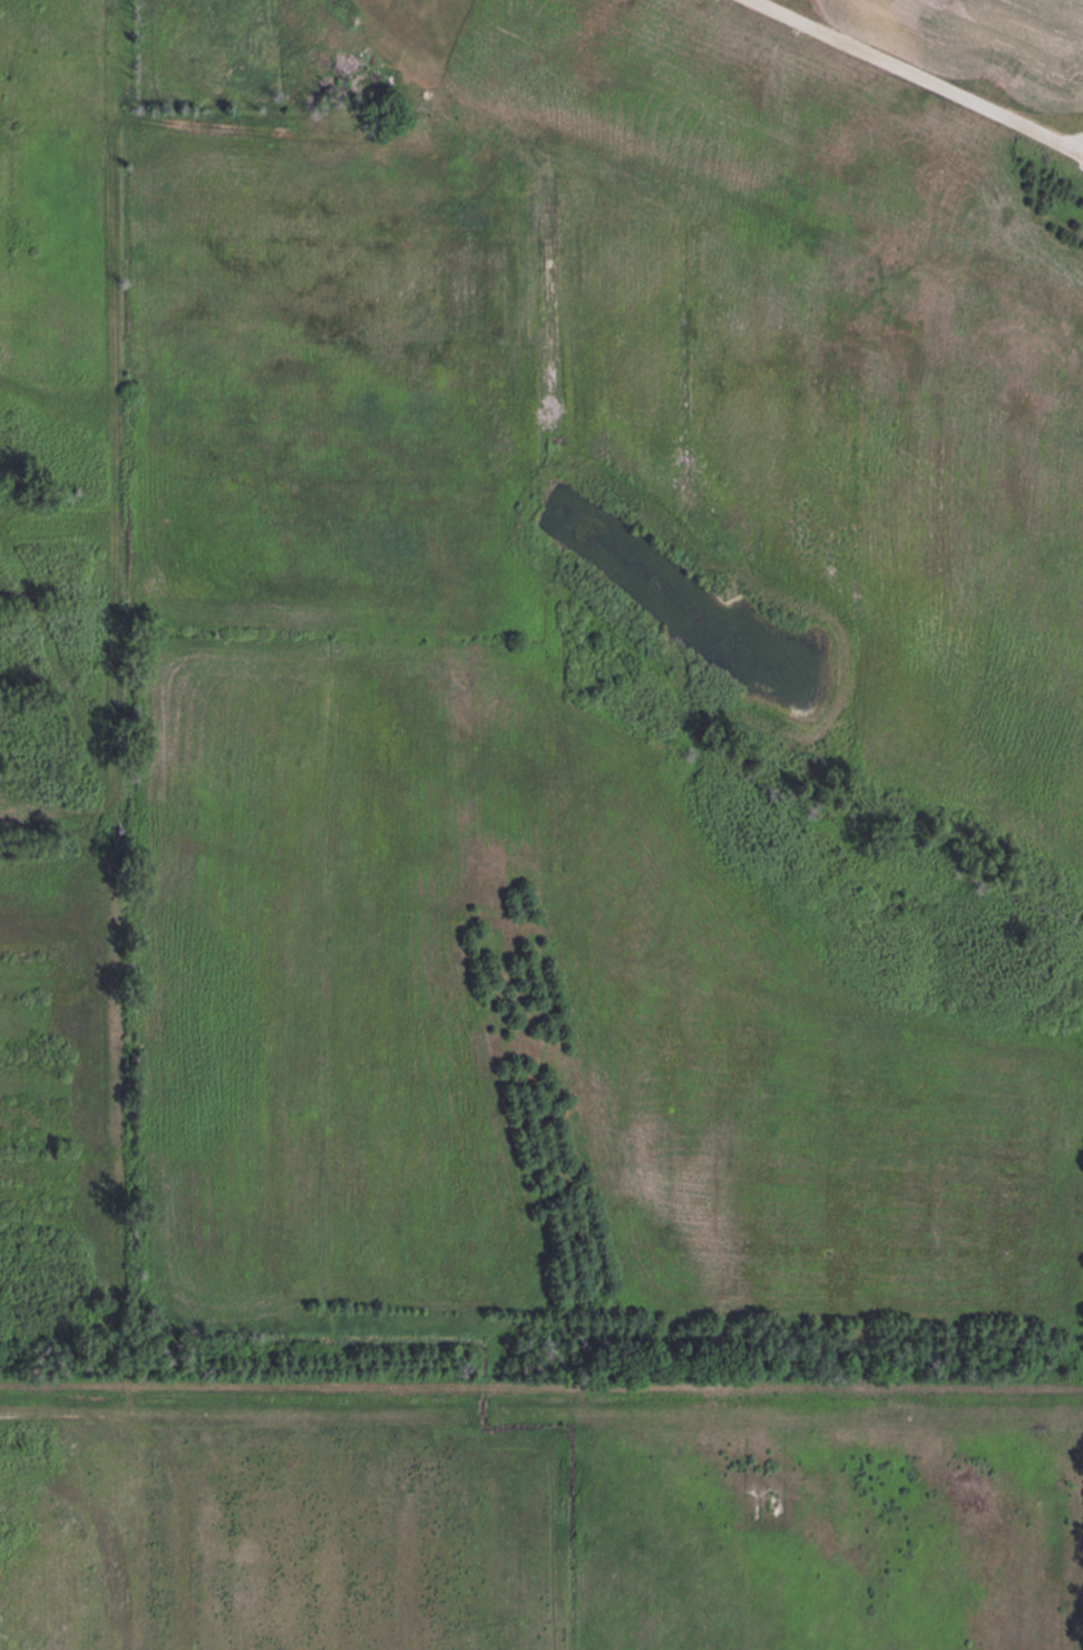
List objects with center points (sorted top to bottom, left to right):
road: (923, 72)
road: (1072, 133)

